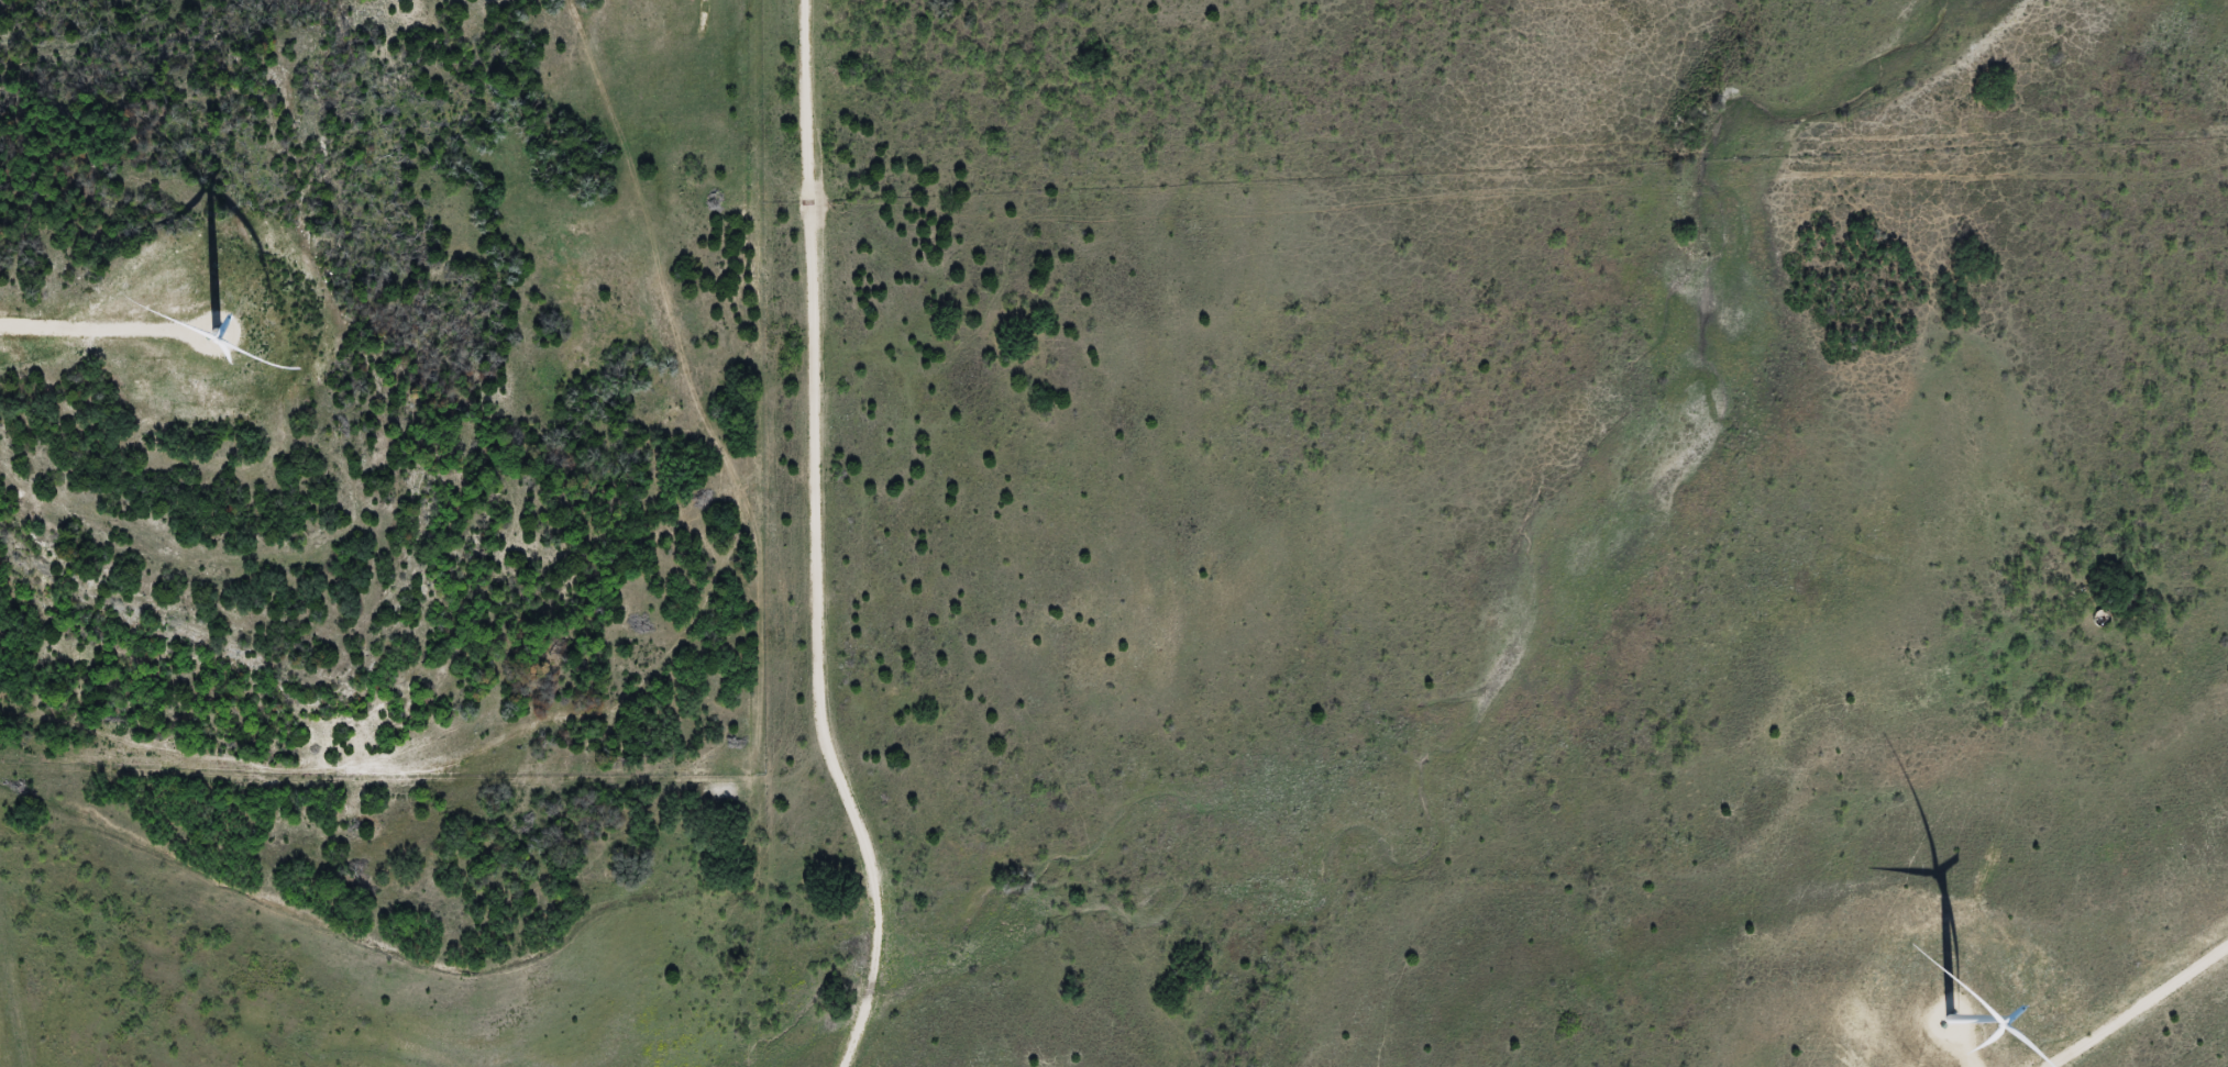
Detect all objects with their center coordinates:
road: (85, 318)
wind turbine: (214, 331)
road: (814, 543)
road: (2136, 1005)
wind turbine: (1950, 1019)

